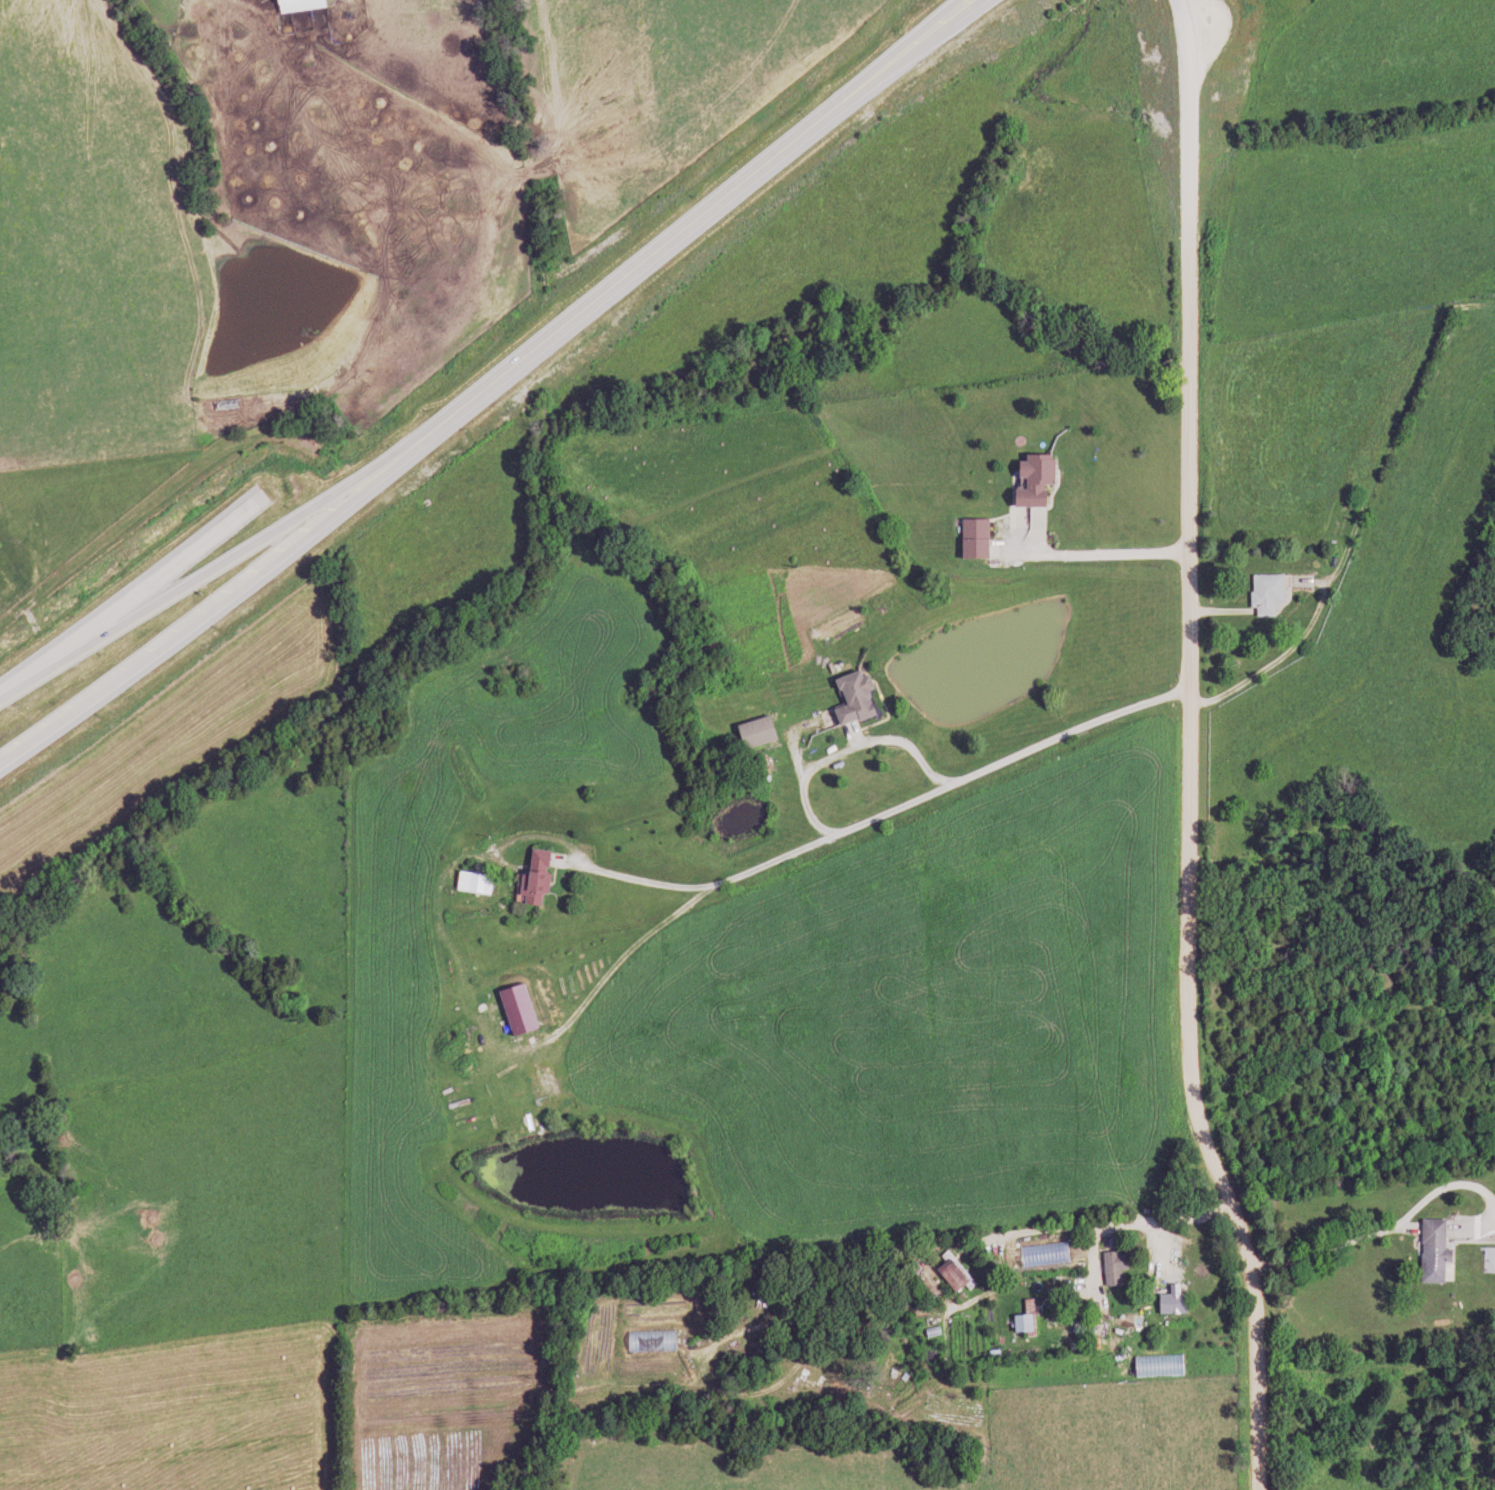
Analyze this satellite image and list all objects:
building: (307, 4)
road: (710, 211)
building: (1040, 481)
building: (980, 538)
road: (223, 555)
road: (1098, 559)
road: (222, 589)
building: (1263, 593)
building: (861, 698)
building: (760, 732)
road: (1190, 748)
road: (877, 816)
building: (541, 876)
building: (477, 883)
road: (617, 959)
road: (1405, 1215)
road: (1022, 1227)
building: (1430, 1250)
road: (1103, 1252)
building: (1112, 1267)
building: (1028, 1318)

